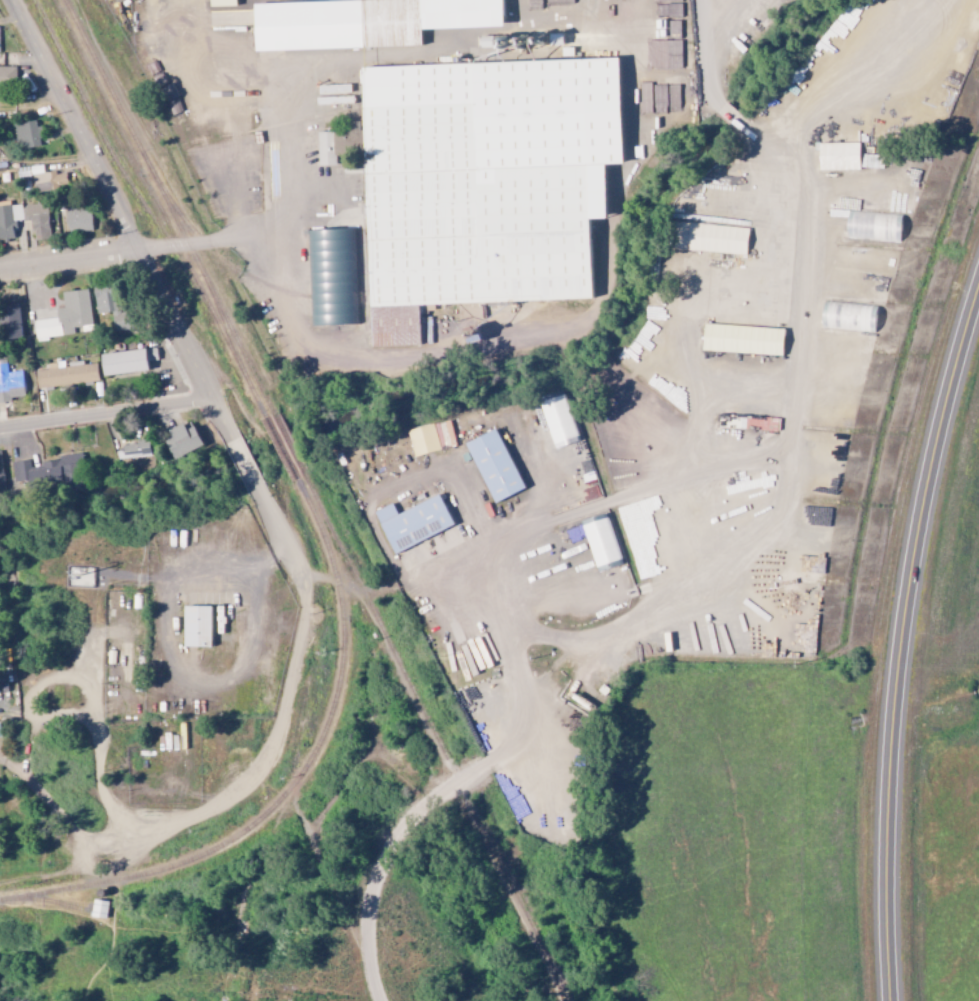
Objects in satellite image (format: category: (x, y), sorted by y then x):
building: (223, 3)
building: (662, 29)
building: (374, 33)
building: (661, 58)
building: (156, 65)
building: (7, 75)
building: (235, 104)
railway: (98, 114)
building: (27, 134)
building: (329, 147)
building: (839, 156)
railway: (113, 160)
building: (49, 180)
building: (490, 194)
railway: (167, 207)
railway: (157, 209)
building: (79, 219)
road: (123, 222)
building: (873, 226)
building: (41, 229)
building: (709, 238)
railway: (213, 252)
road: (120, 254)
building: (335, 286)
building: (111, 308)
building: (66, 317)
building: (849, 317)
building: (10, 321)
railway: (227, 333)
building: (743, 339)
building: (398, 340)
building: (127, 361)
building: (66, 374)
building: (10, 383)
road: (106, 414)
building: (557, 420)
building: (444, 434)
building: (182, 440)
building: (423, 440)
railway: (289, 446)
building: (135, 449)
railway: (280, 449)
road: (244, 464)
building: (828, 464)
building: (495, 465)
building: (48, 470)
building: (1, 472)
building: (413, 522)
building: (199, 627)
road: (900, 635)
road: (288, 705)
building: (0, 735)
railway: (435, 739)
railway: (293, 785)
railway: (57, 902)
railway: (76, 907)

